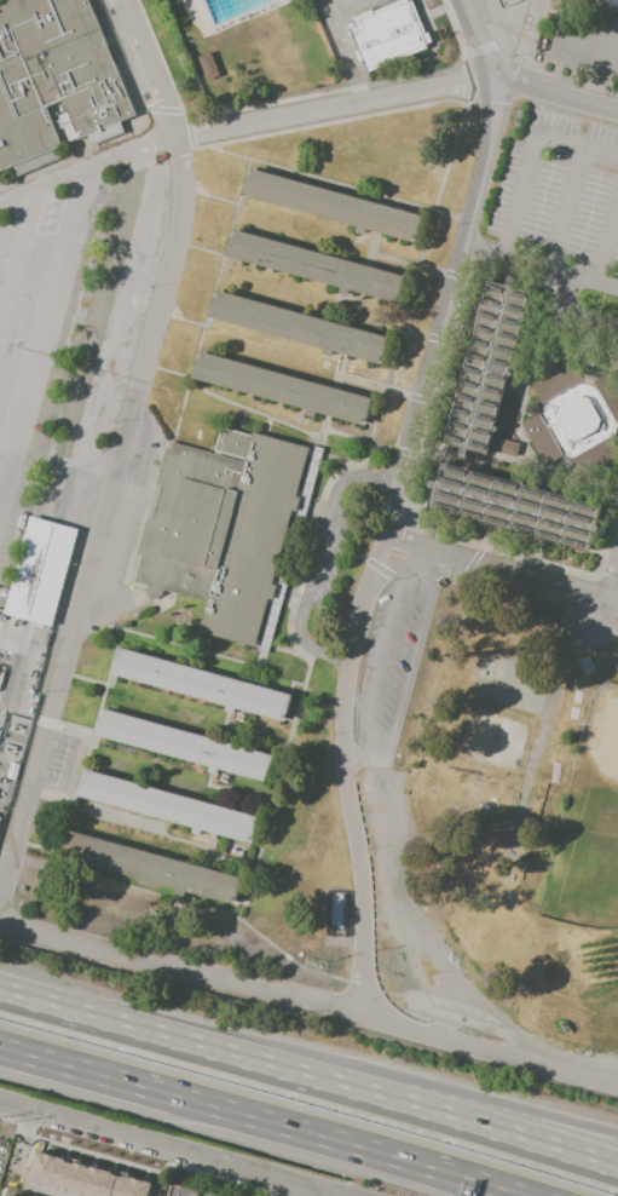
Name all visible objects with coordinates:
building: (602, 5)
building: (387, 35)
road: (568, 41)
road: (342, 50)
building: (207, 65)
building: (54, 80)
road: (398, 93)
road: (531, 151)
road: (87, 171)
building: (331, 213)
parking lot: (566, 213)
road: (11, 242)
road: (538, 264)
building: (316, 268)
road: (119, 304)
road: (46, 306)
building: (299, 329)
building: (487, 369)
building: (283, 391)
parking lot: (64, 397)
building: (577, 420)
road: (37, 445)
building: (506, 445)
road: (123, 448)
road: (5, 460)
road: (98, 460)
road: (70, 481)
road: (389, 501)
building: (516, 508)
building: (225, 529)
road: (342, 556)
road: (314, 559)
road: (499, 569)
building: (39, 570)
road: (610, 570)
building: (562, 615)
parking lot: (393, 662)
park: (508, 682)
building: (201, 688)
park: (489, 738)
building: (184, 751)
building: (166, 809)
park: (522, 811)
park: (589, 830)
building: (150, 870)
road: (308, 1002)
road: (178, 1042)
road: (167, 1094)
road: (487, 1108)
road: (487, 1129)
road: (156, 1148)
road: (13, 1166)
road: (428, 1167)
road: (399, 1168)
building: (184, 1192)
road: (313, 1194)
road: (323, 1194)

